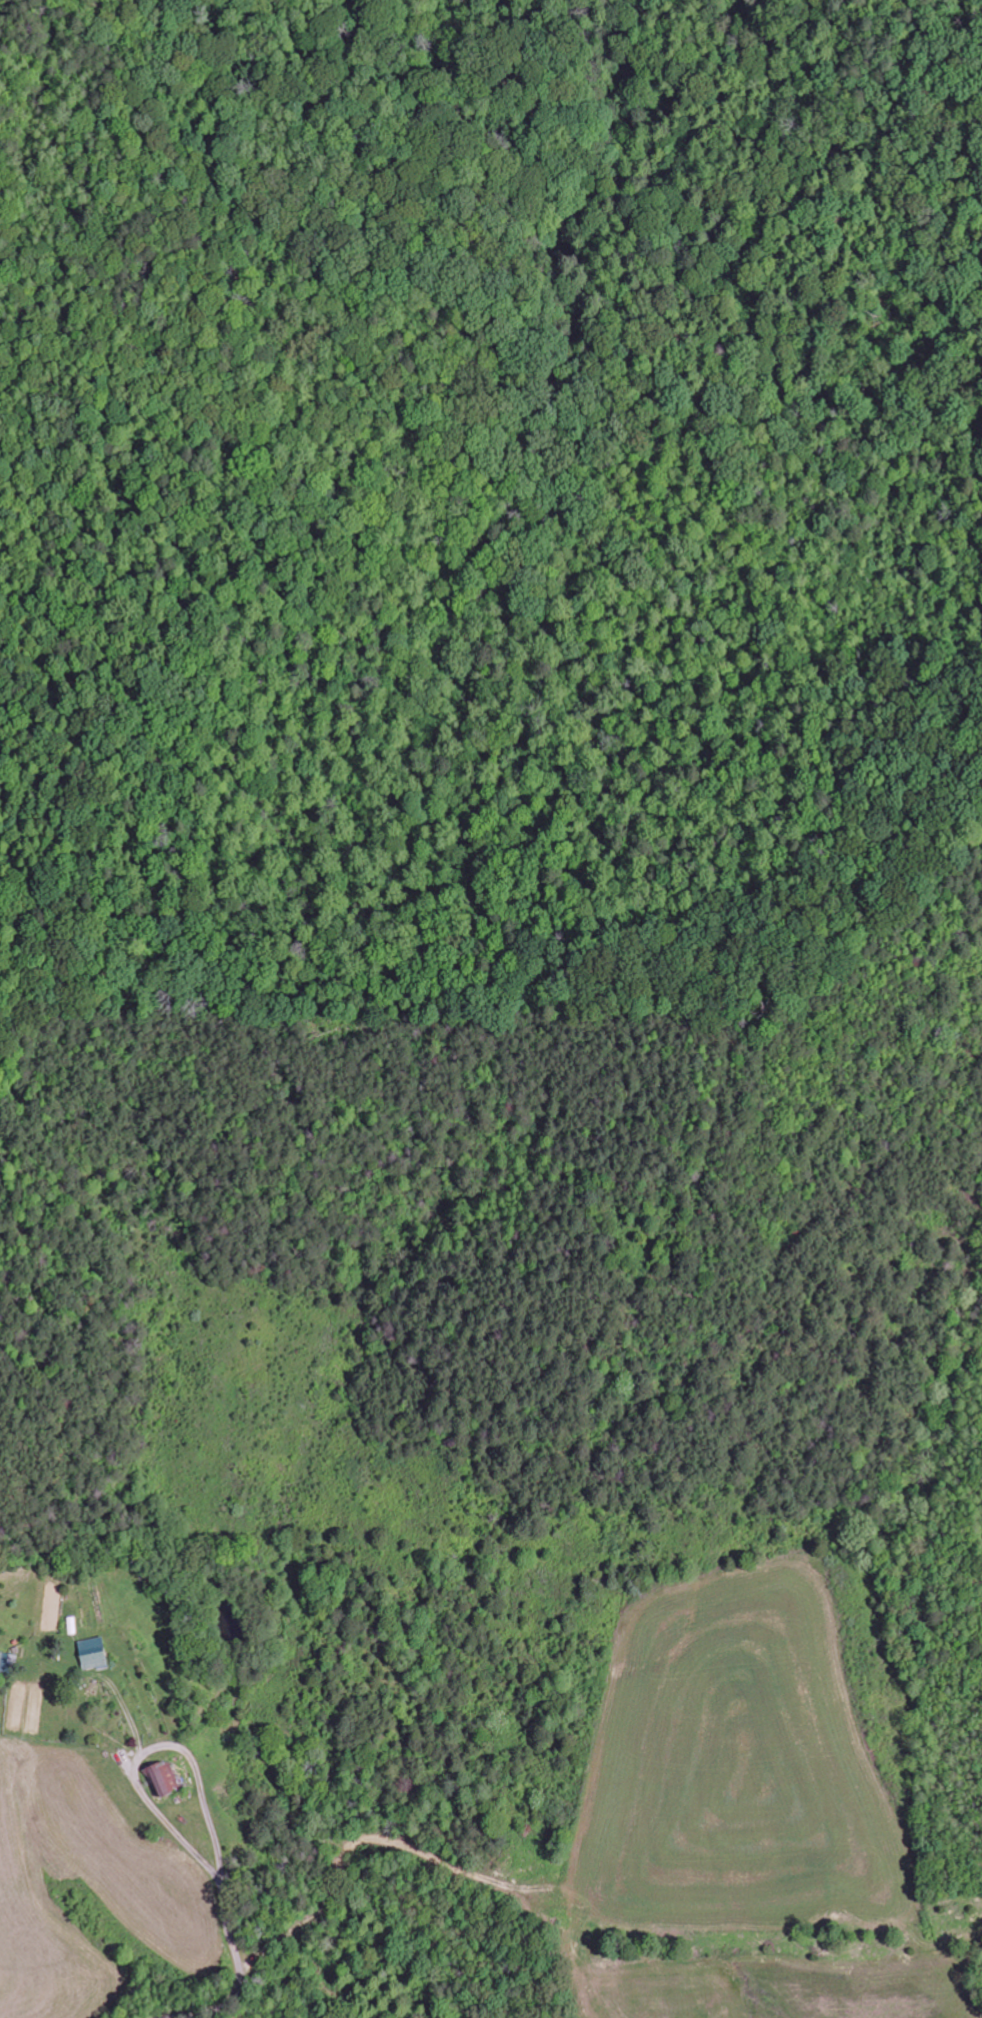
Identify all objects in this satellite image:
building: (93, 1656)
road: (135, 1771)
building: (163, 1783)
road: (230, 1946)

